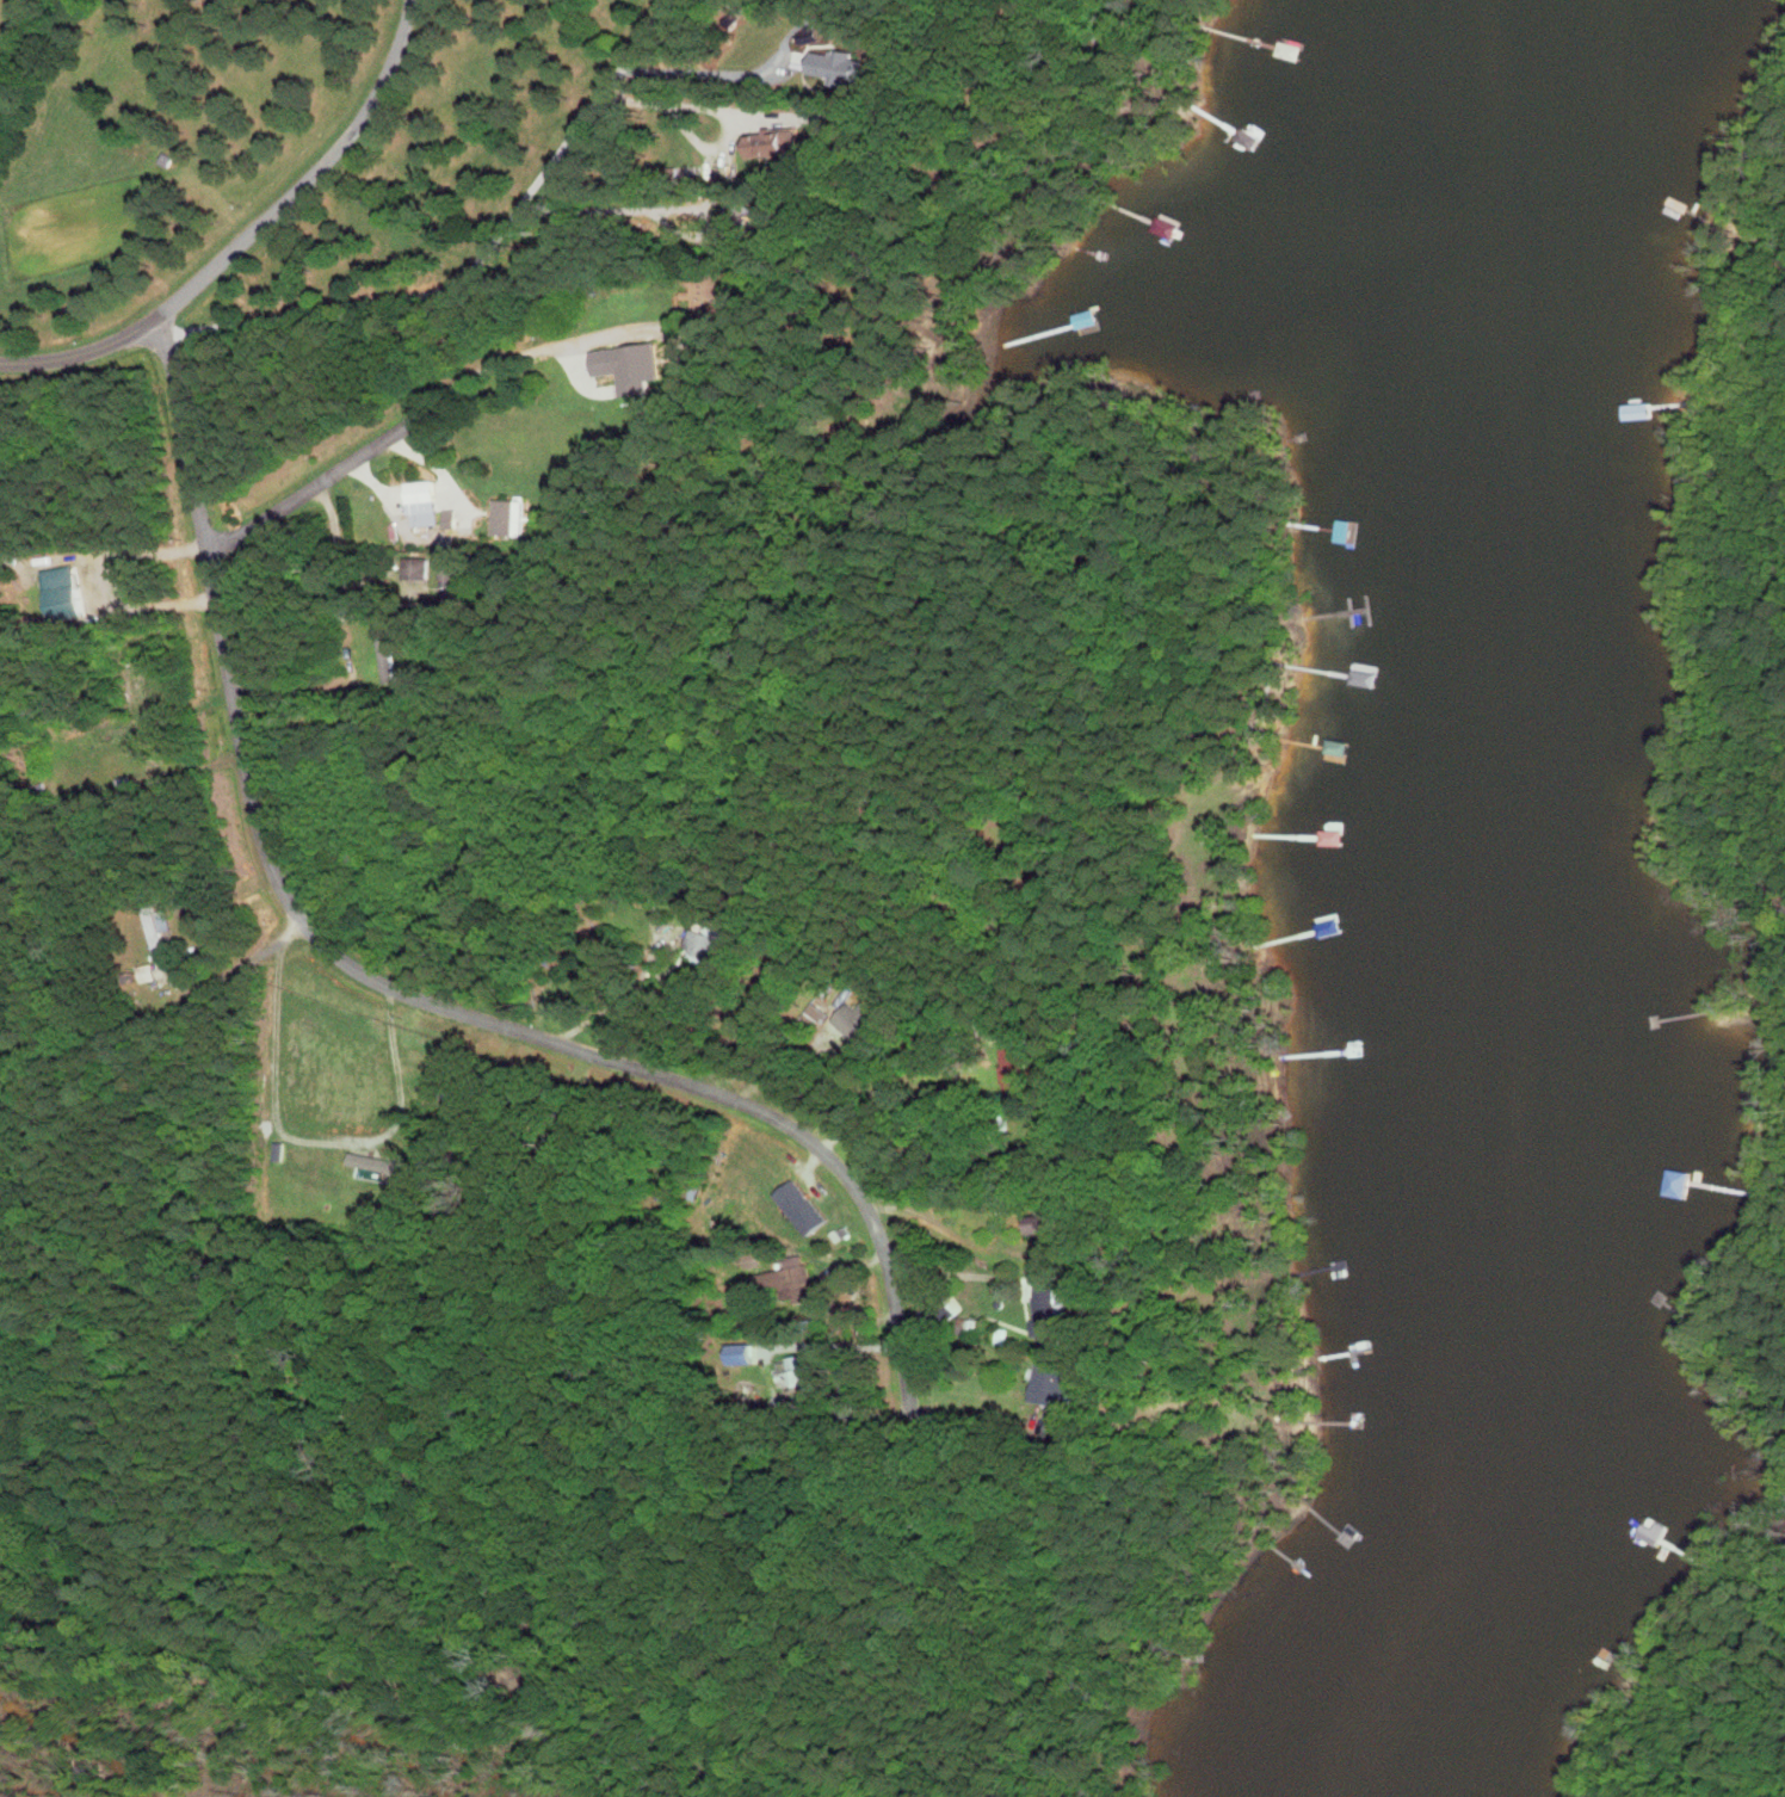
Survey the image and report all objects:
road: (715, 106)
building: (776, 144)
road: (307, 179)
road: (478, 263)
building: (709, 291)
building: (1043, 333)
road: (521, 352)
road: (79, 354)
building: (636, 368)
building: (1602, 413)
road: (319, 484)
building: (425, 504)
building: (512, 518)
road: (456, 535)
building: (419, 569)
building: (456, 578)
building: (452, 600)
building: (388, 655)
road: (298, 685)
building: (1339, 748)
building: (1330, 844)
building: (156, 933)
building: (706, 945)
road: (236, 953)
building: (148, 975)
road: (391, 989)
building: (870, 1023)
road: (299, 1134)
building: (1031, 1156)
building: (1046, 1224)
road: (962, 1272)
building: (797, 1282)
building: (1048, 1313)
building: (939, 1314)
building: (795, 1372)
building: (1055, 1387)

